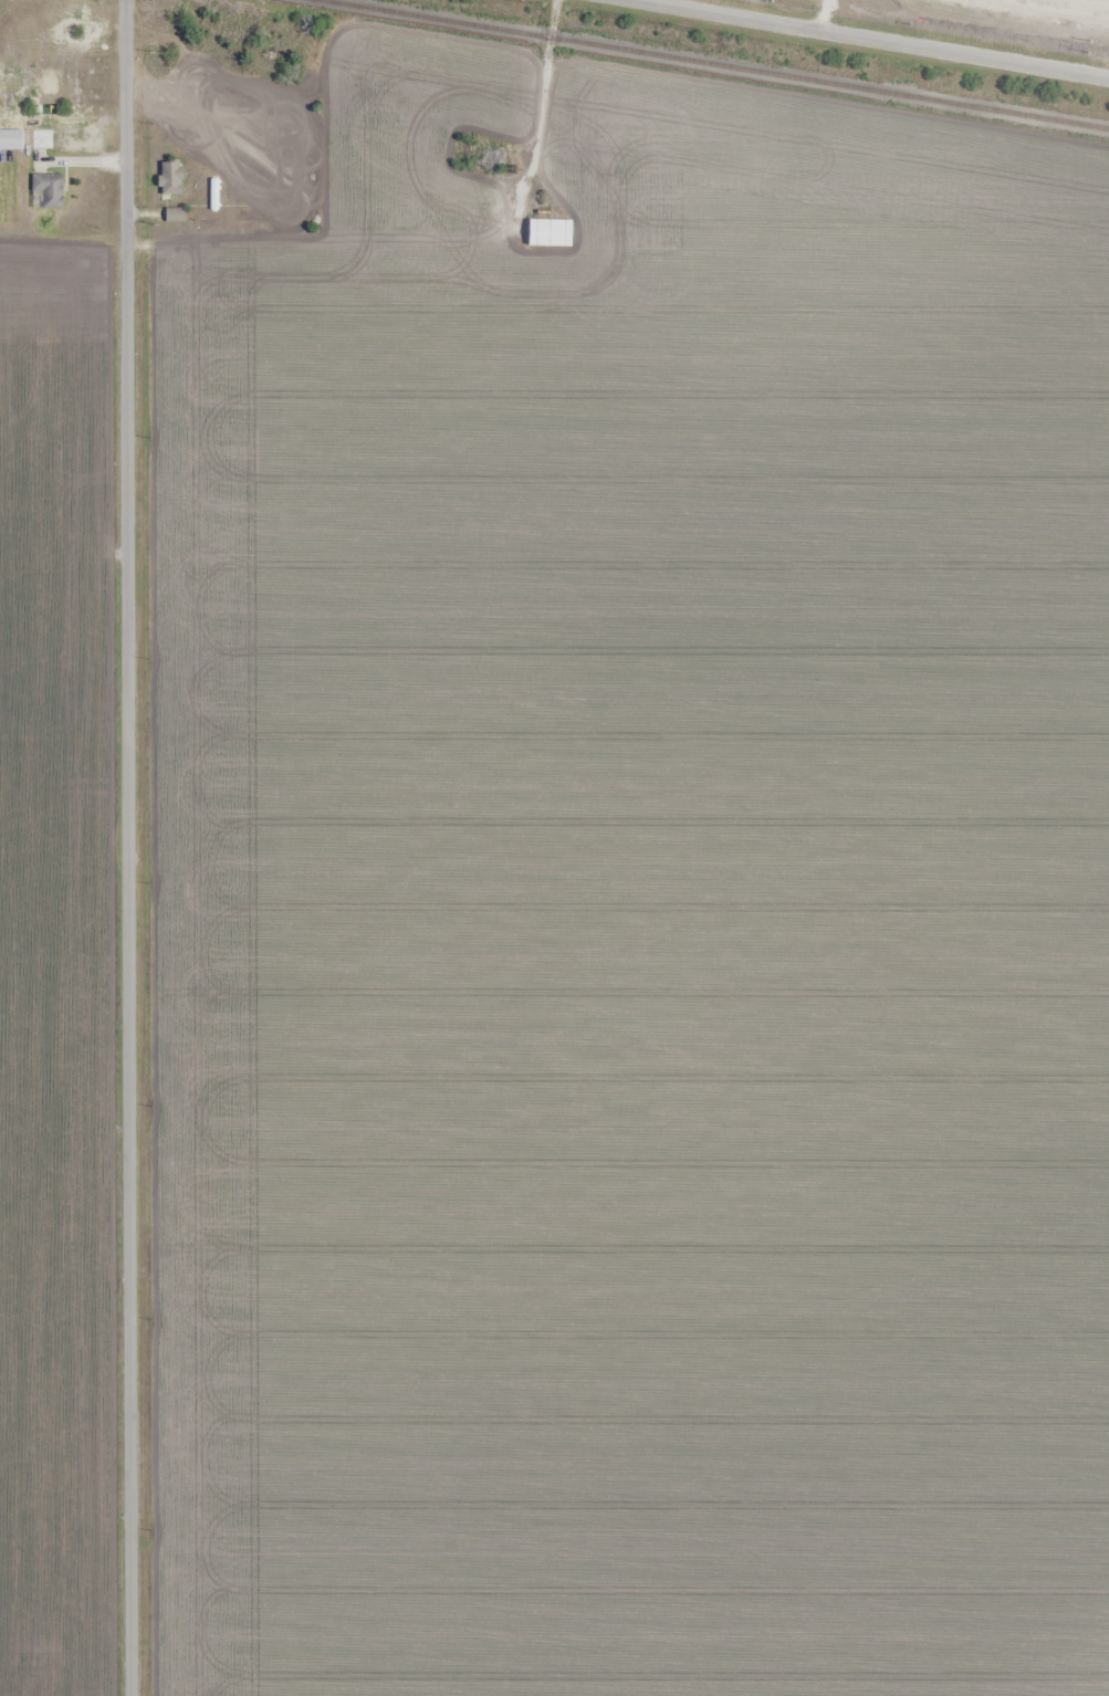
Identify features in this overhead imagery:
power tower: (909, 21)
road: (872, 39)
railway: (714, 63)
road: (542, 108)
building: (11, 139)
building: (491, 157)
building: (169, 178)
building: (45, 190)
building: (174, 216)
building: (548, 232)
road: (126, 848)

